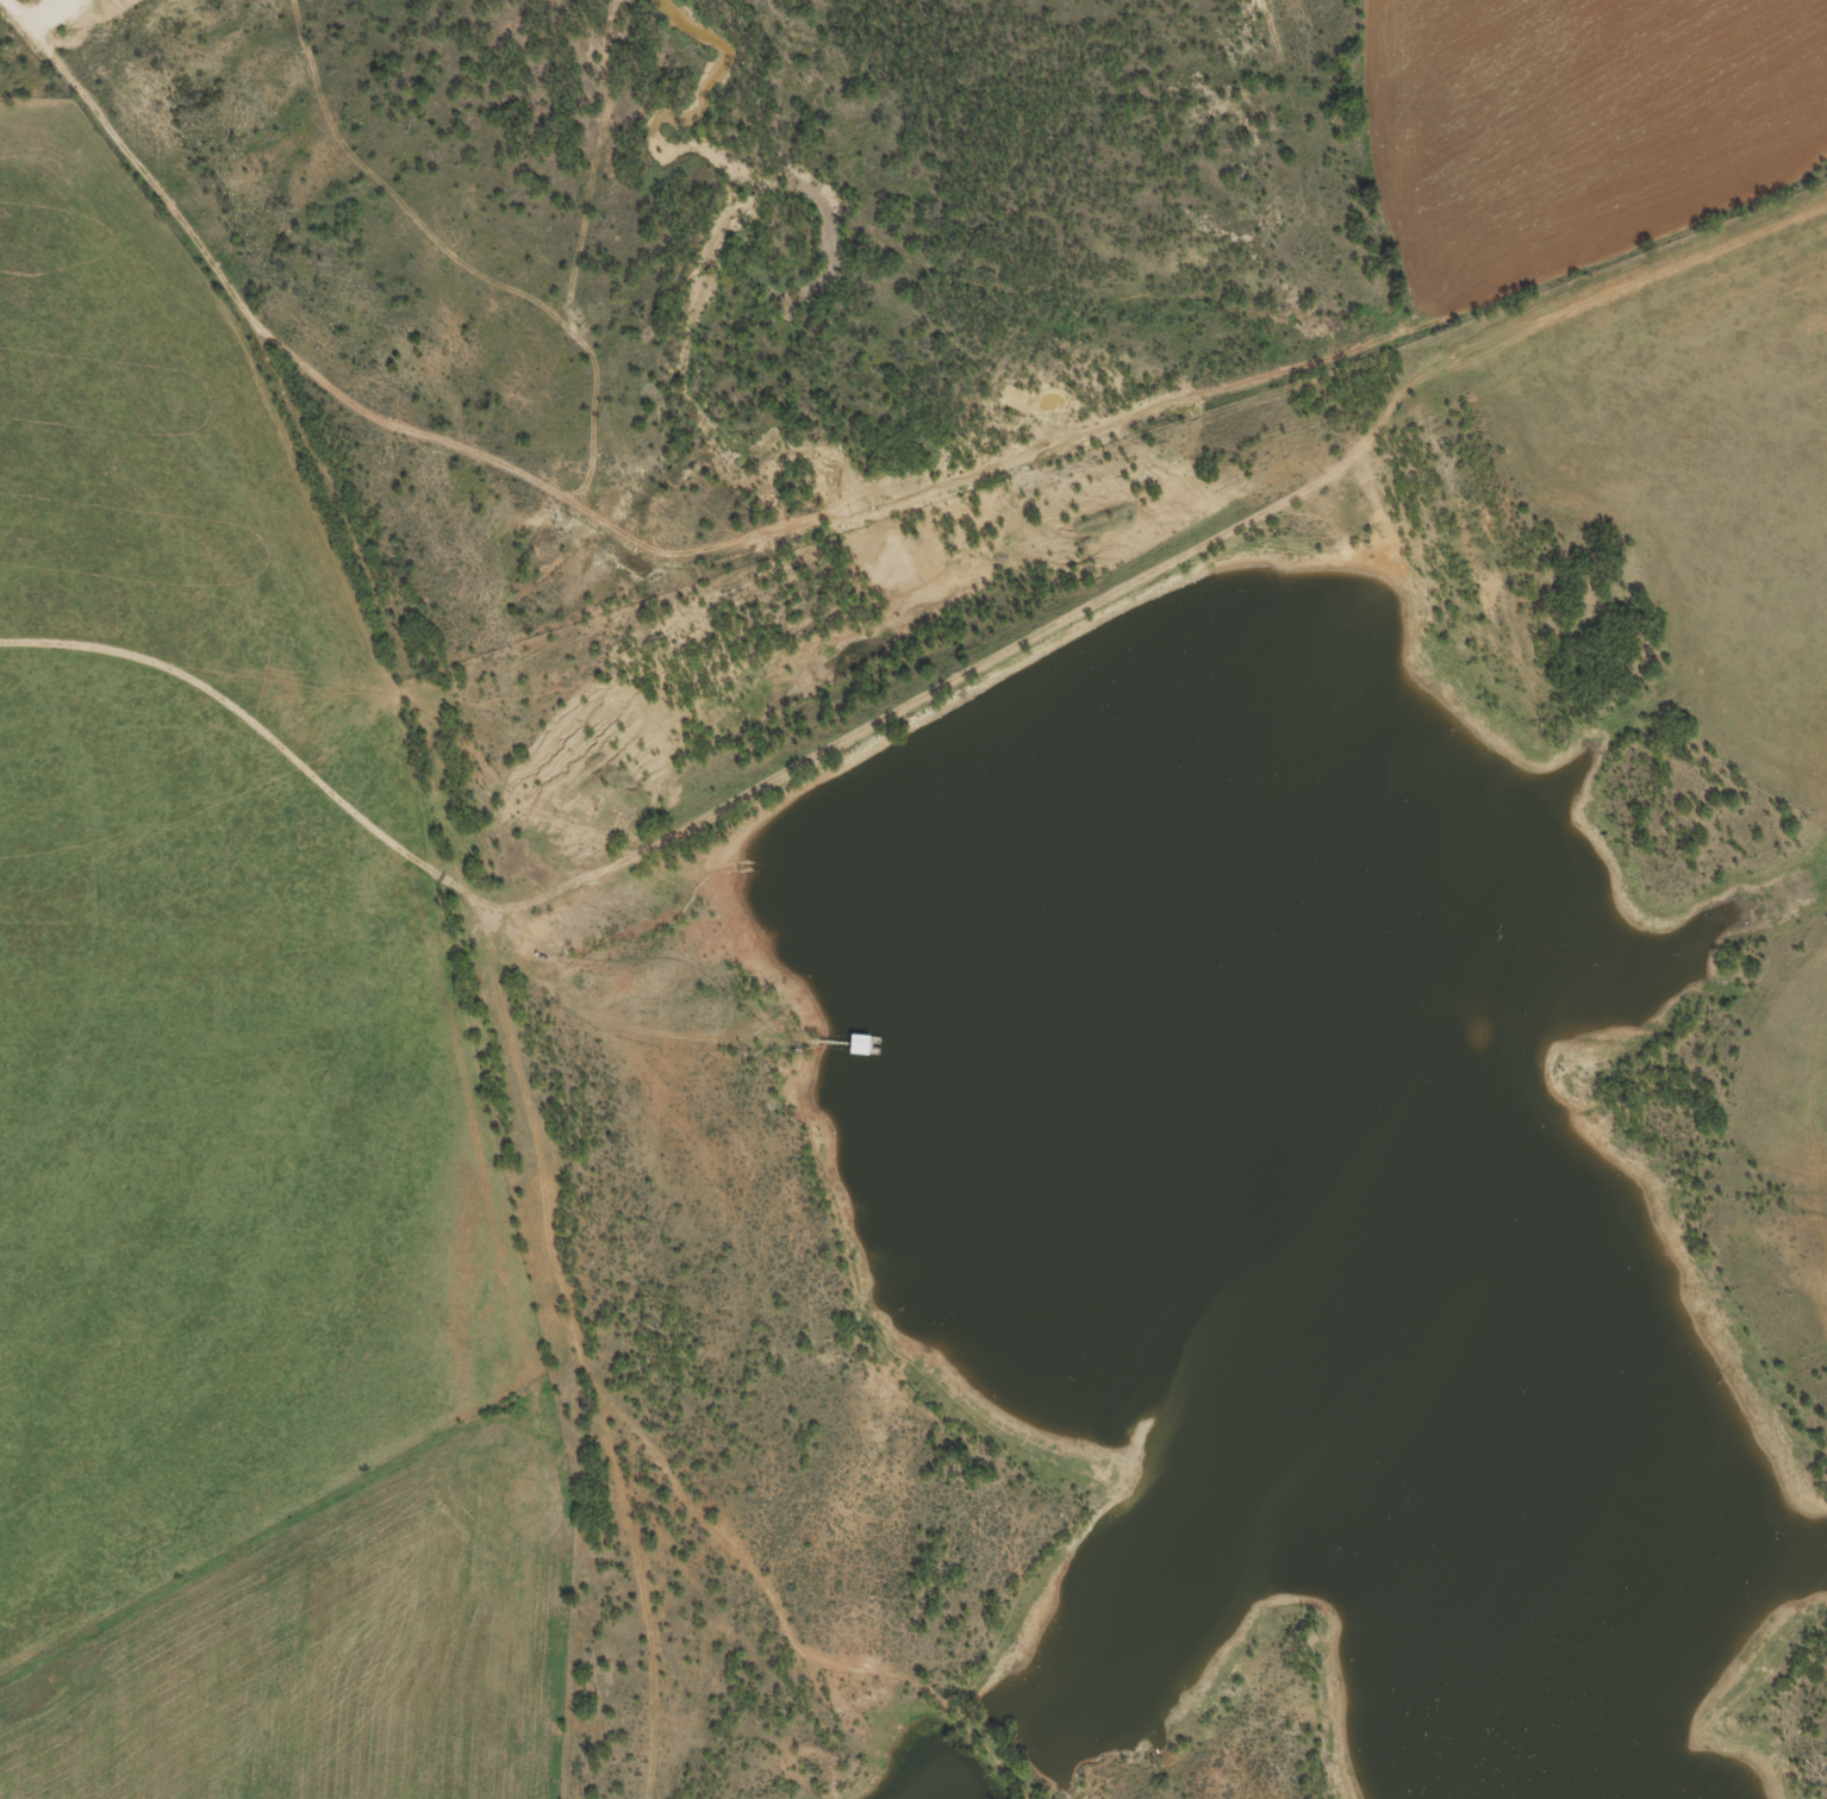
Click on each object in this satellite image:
road: (48, 15)
road: (27, 27)
dam: (965, 693)
road: (917, 699)
road: (498, 985)
road: (636, 1025)
pier: (844, 1039)

